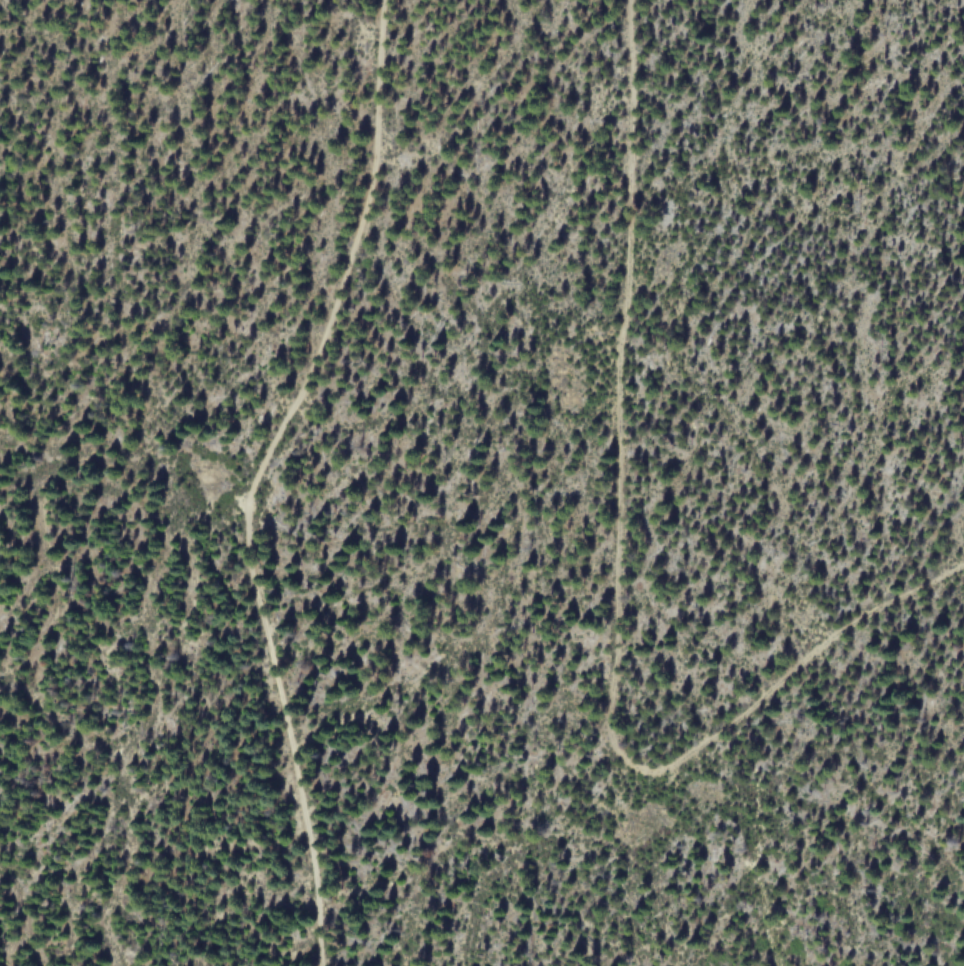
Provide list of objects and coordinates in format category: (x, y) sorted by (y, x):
road: (258, 476)

